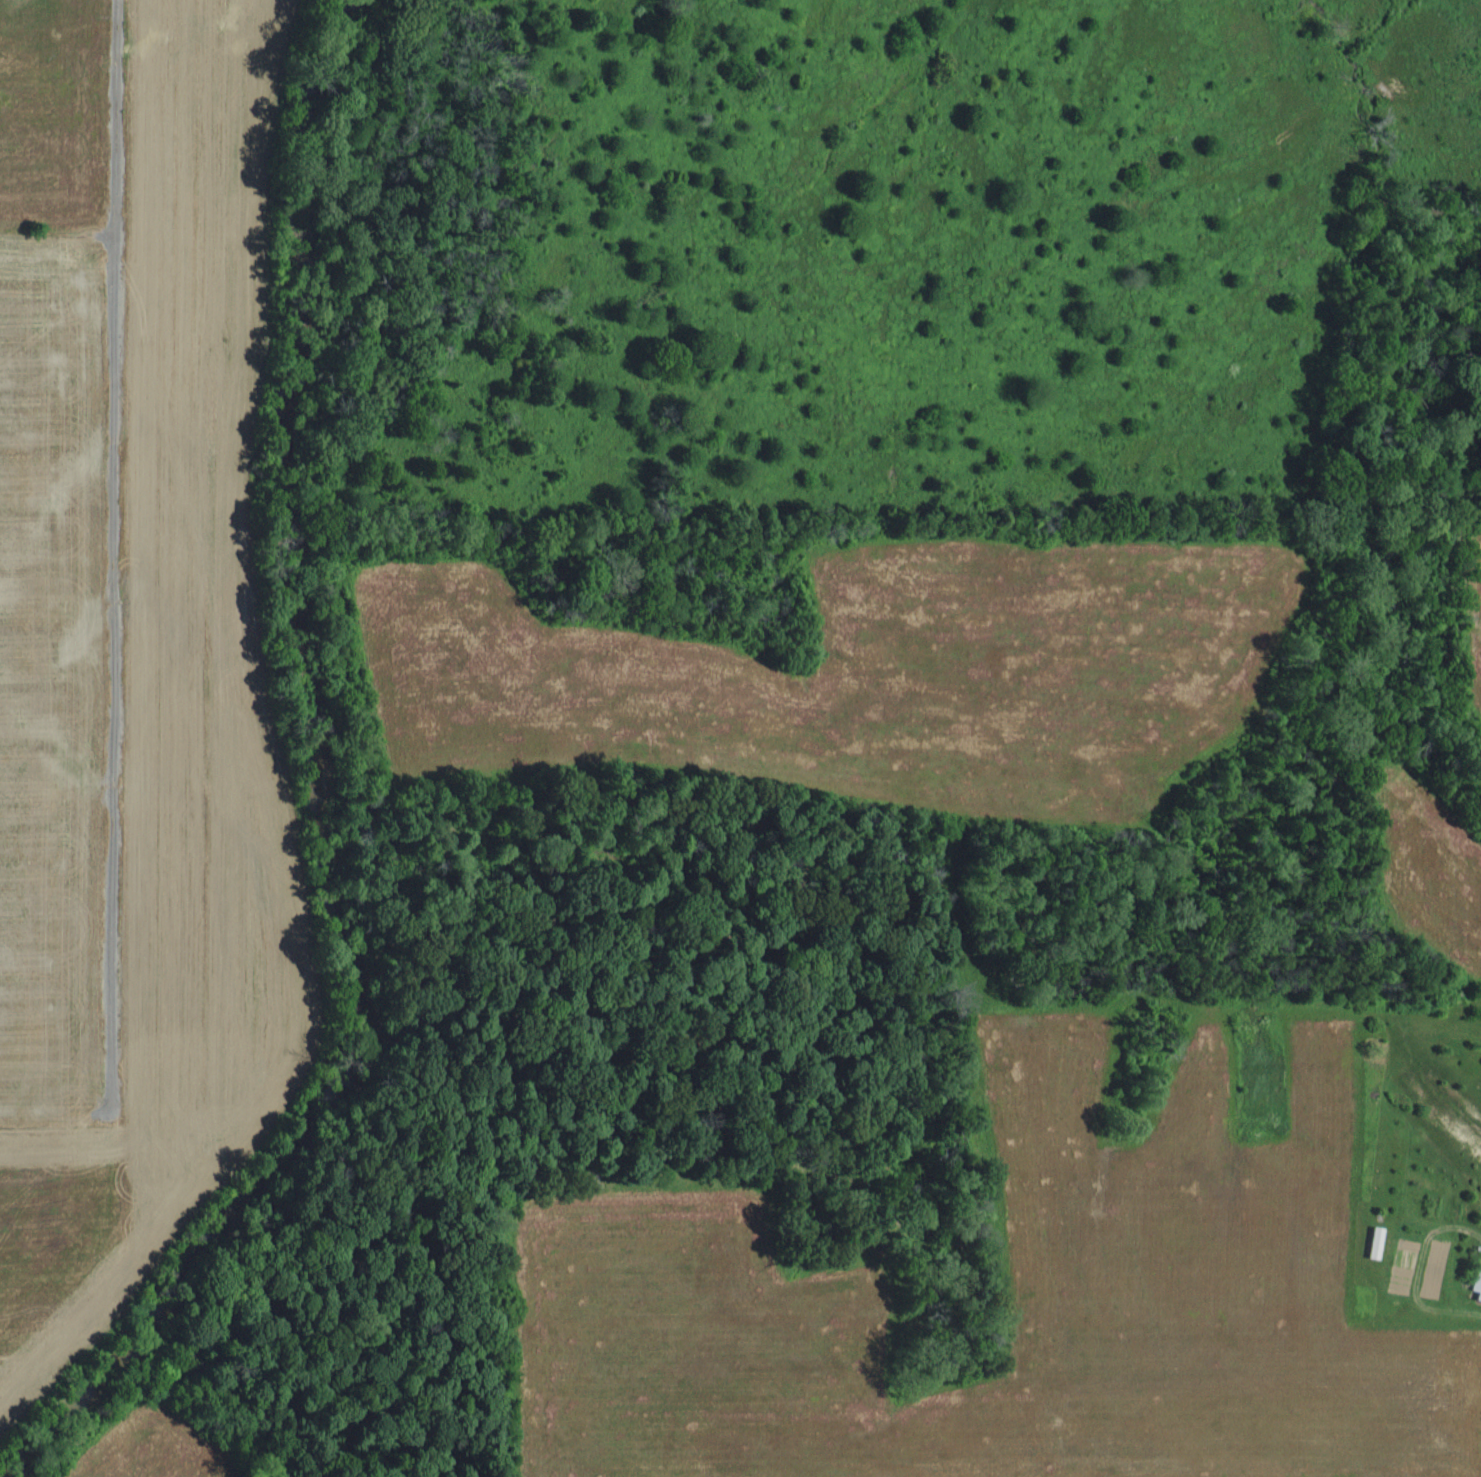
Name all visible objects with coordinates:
building: (1371, 1239)
building: (1476, 1280)

